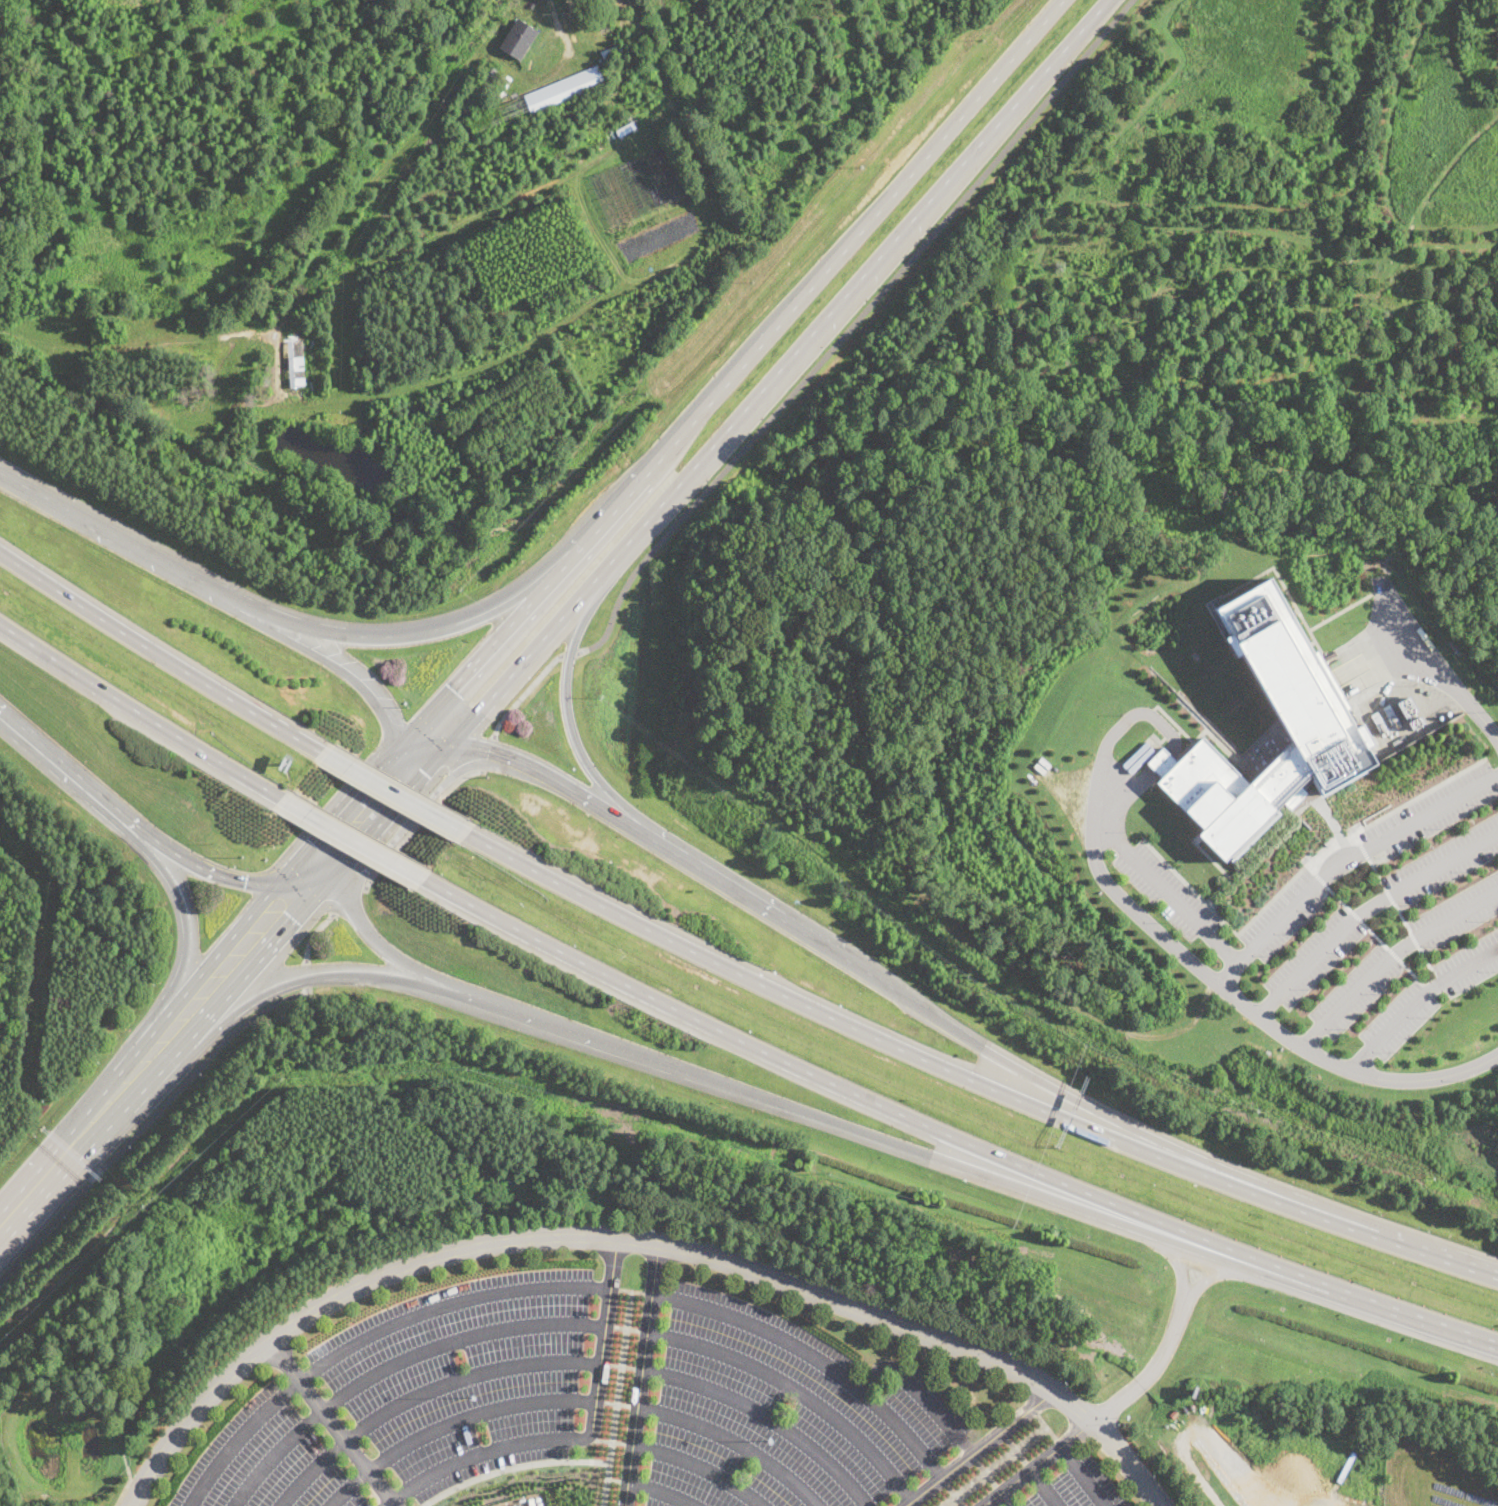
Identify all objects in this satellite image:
building: (532, 4)
road: (1106, 4)
building: (518, 39)
building: (613, 50)
road: (549, 72)
building: (630, 75)
building: (624, 78)
building: (487, 82)
building: (500, 86)
road: (977, 98)
building: (537, 102)
building: (625, 129)
road: (489, 209)
park: (1254, 234)
road: (868, 278)
road: (848, 326)
road: (140, 347)
building: (296, 364)
building: (257, 385)
road: (405, 388)
building: (359, 436)
road: (662, 451)
road: (222, 600)
road: (542, 636)
road: (389, 639)
road: (159, 653)
road: (568, 654)
road: (1436, 666)
building: (1296, 683)
road: (523, 692)
traffic signals: (457, 693)
road: (141, 712)
road: (488, 752)
traffic signals: (491, 752)
road: (588, 763)
road: (1101, 769)
traffic signals: (398, 773)
road: (72, 778)
road: (387, 785)
building: (1230, 791)
road: (395, 794)
road: (430, 800)
road: (1393, 810)
road: (417, 823)
road: (1278, 827)
road: (1357, 838)
road: (356, 842)
traffic signals: (331, 851)
road: (1364, 851)
parking lot: (1370, 853)
road: (1344, 861)
road: (319, 865)
road: (1376, 873)
road: (224, 877)
road: (1320, 879)
traffic signals: (244, 882)
road: (1165, 890)
parking lot: (1166, 891)
road: (1389, 895)
road: (1339, 898)
road: (347, 899)
traffic signals: (282, 907)
parking lot: (1381, 907)
road: (1365, 908)
road: (1356, 916)
road: (1402, 917)
road: (1228, 925)
road: (313, 932)
road: (1160, 934)
road: (1375, 934)
road: (1414, 939)
parking lot: (1404, 953)
road: (188, 954)
road: (1393, 954)
road: (394, 956)
road: (1390, 956)
road: (1427, 961)
road: (224, 972)
road: (1411, 972)
road: (306, 974)
road: (892, 990)
parking lot: (1430, 994)
road: (1415, 1000)
road: (666, 1066)
road: (1370, 1074)
road: (974, 1075)
road: (144, 1122)
road: (952, 1138)
road: (73, 1148)
road: (3, 1230)
road: (633, 1238)
road: (1170, 1257)
road: (1252, 1273)
road: (630, 1289)
road: (626, 1328)
road: (367, 1335)
road: (603, 1343)
road: (815, 1357)
road: (393, 1364)
road: (620, 1366)
road: (1147, 1370)
road: (641, 1373)
road: (796, 1389)
road: (422, 1392)
road: (920, 1393)
parking lot: (414, 1397)
road: (616, 1397)
road: (616, 1404)
parking lot: (789, 1410)
building: (1174, 1413)
road: (768, 1416)
road: (450, 1419)
road: (330, 1421)
road: (1045, 1427)
road: (608, 1441)
road: (736, 1441)
road: (978, 1448)
road: (475, 1455)
road: (1037, 1464)
road: (703, 1466)
road: (996, 1467)
road: (1084, 1476)
road: (613, 1479)
parking lot: (1081, 1484)
road: (125, 1487)
road: (1043, 1488)
road: (662, 1490)
road: (1005, 1499)
road: (393, 1504)
building: (517, 1505)

